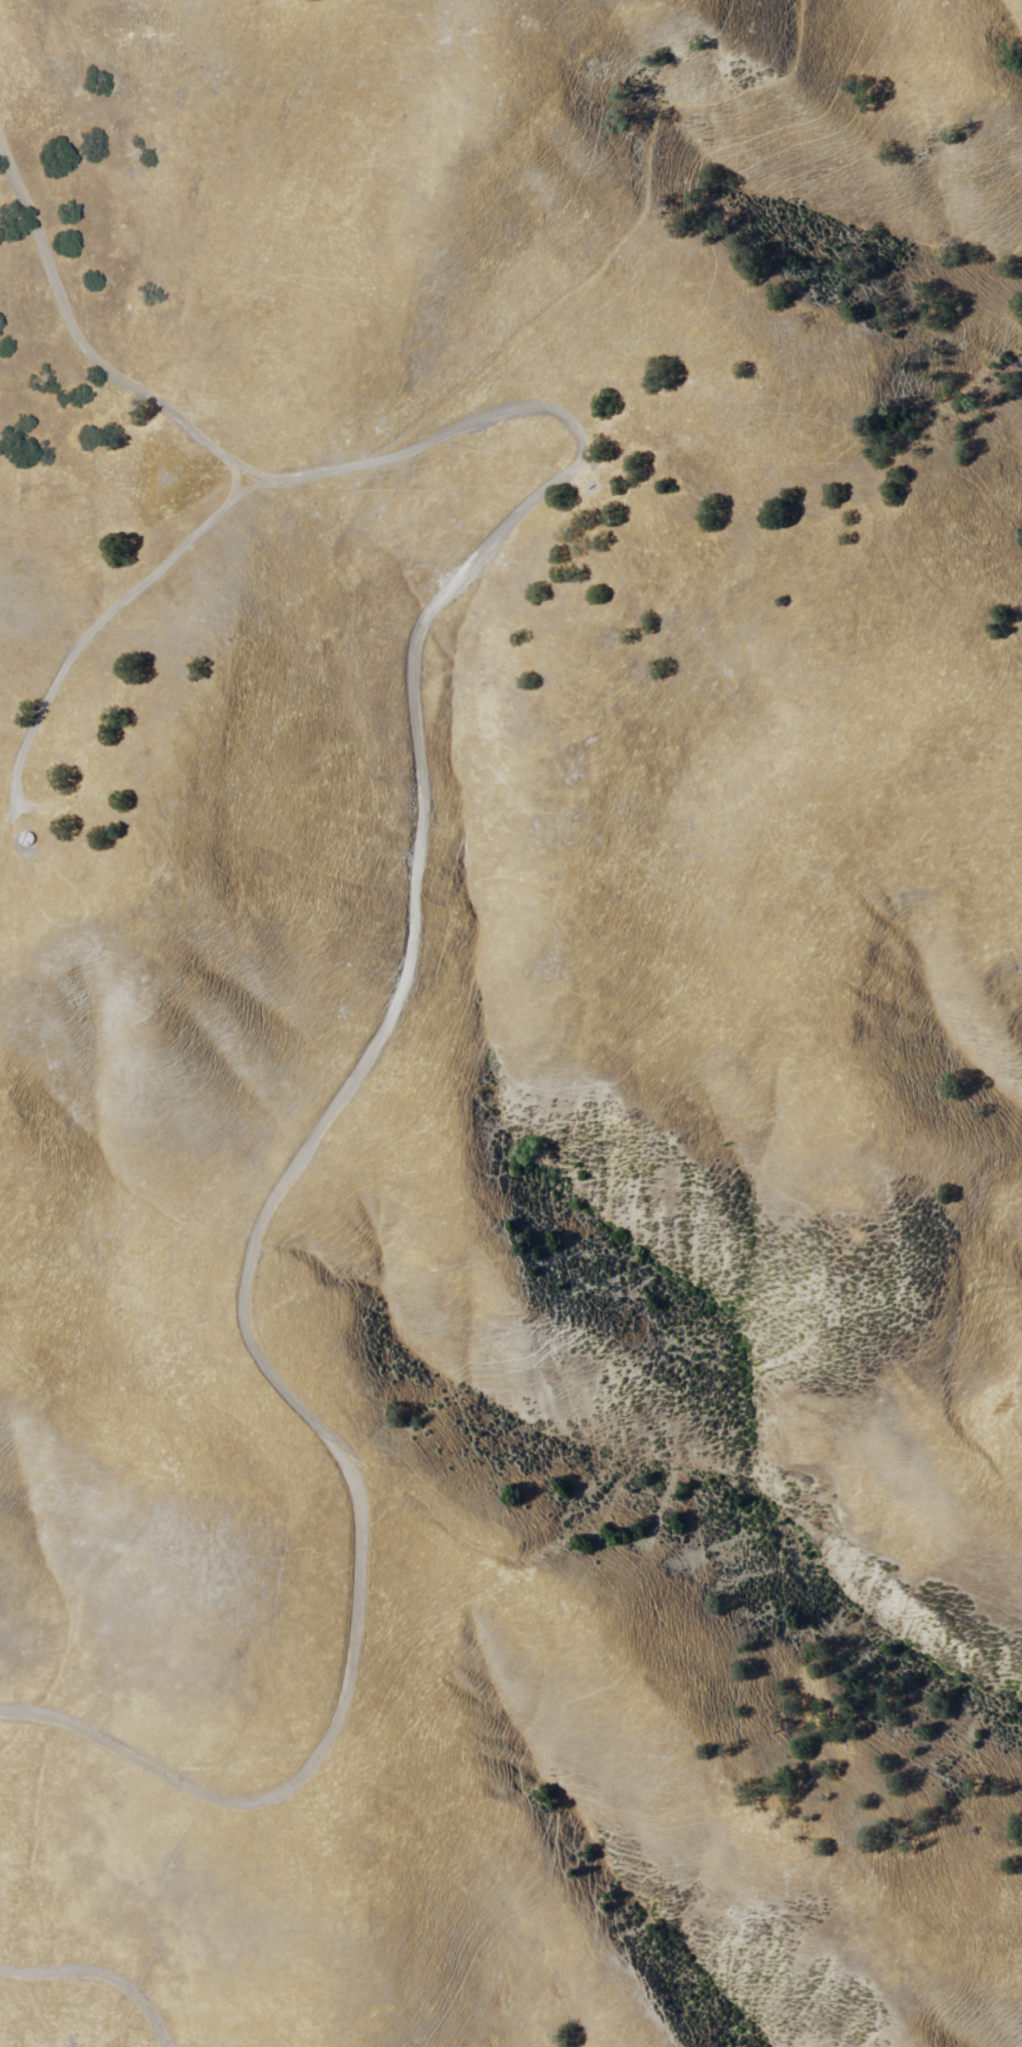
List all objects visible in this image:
road: (413, 879)
road: (101, 1974)

